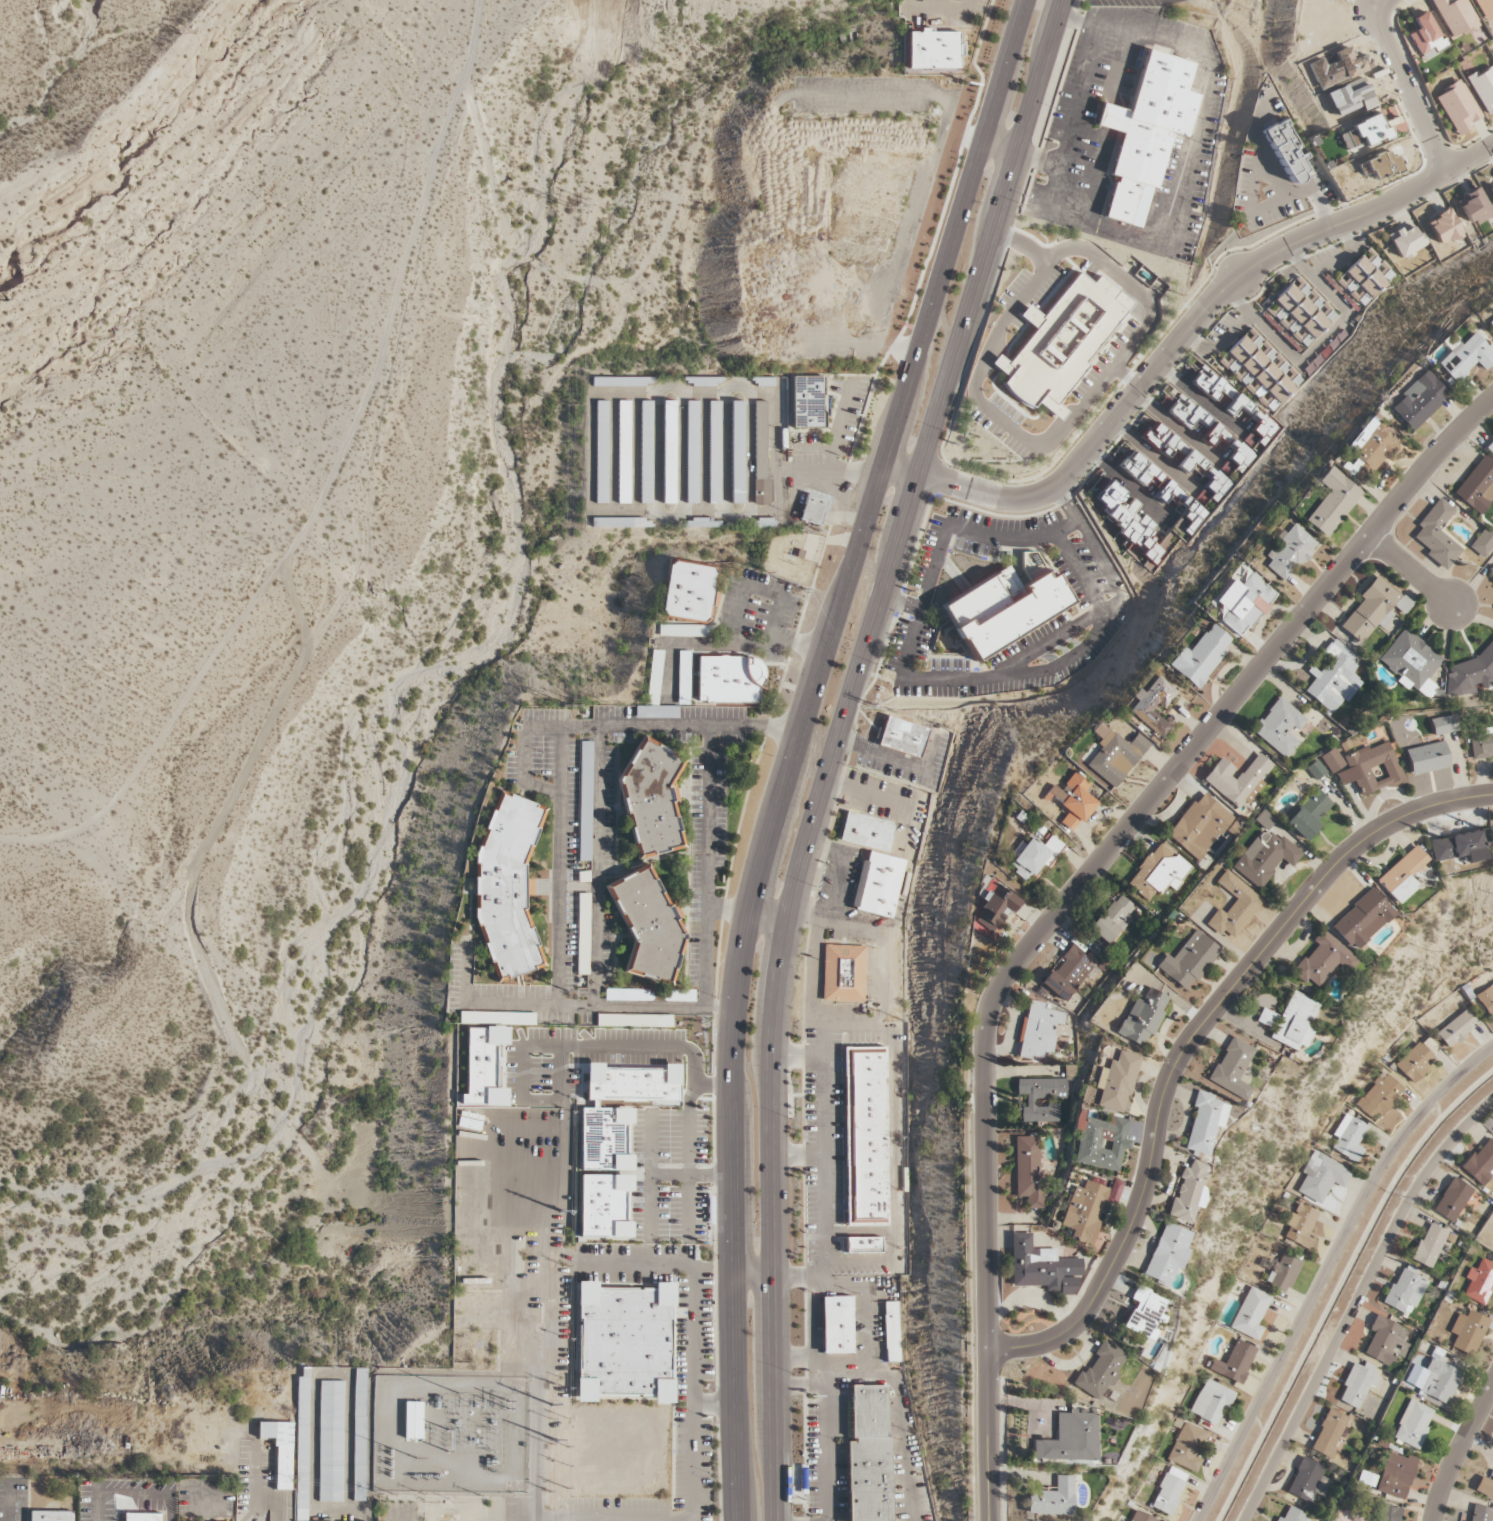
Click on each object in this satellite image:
road: (937, 9)
building: (1484, 9)
building: (1455, 17)
building: (1426, 37)
building: (932, 49)
road: (1409, 86)
building: (1483, 88)
building: (1457, 107)
road: (1070, 124)
building: (1364, 132)
building: (1146, 133)
road: (1002, 145)
road: (1192, 146)
road: (1259, 148)
building: (1285, 150)
building: (1381, 165)
building: (1491, 190)
power tower: (570, 201)
building: (1474, 207)
road: (1319, 209)
road: (1249, 214)
building: (1443, 227)
building: (1405, 241)
building: (1366, 277)
road: (1343, 306)
road: (763, 311)
building: (1299, 315)
building: (1491, 323)
road: (1259, 324)
building: (1061, 340)
road: (1179, 340)
road: (896, 349)
building: (1465, 357)
building: (1258, 374)
building: (621, 381)
building: (1418, 401)
building: (808, 402)
power tower: (567, 403)
building: (1235, 404)
building: (1189, 413)
road: (838, 427)
road: (1177, 428)
building: (1490, 447)
building: (1369, 450)
building: (601, 452)
building: (623, 452)
building: (646, 452)
building: (668, 452)
building: (691, 452)
building: (714, 452)
building: (737, 452)
building: (760, 453)
building: (1140, 470)
road: (838, 473)
road: (1385, 473)
building: (1206, 475)
building: (1477, 485)
road: (914, 487)
building: (1332, 502)
building: (1183, 506)
road: (1066, 508)
building: (812, 509)
building: (1129, 522)
building: (620, 523)
road: (1069, 528)
building: (1437, 535)
building: (1482, 543)
building: (1289, 552)
road: (1110, 570)
building: (1491, 570)
road: (1411, 571)
building: (687, 591)
building: (1244, 603)
road: (901, 606)
building: (1004, 609)
building: (1374, 609)
road: (1262, 619)
building: (683, 631)
road: (797, 643)
road: (764, 646)
building: (1200, 657)
building: (1411, 662)
road: (1220, 672)
building: (1471, 673)
building: (654, 677)
building: (1334, 678)
building: (729, 679)
road: (933, 685)
power tower: (565, 703)
building: (1153, 706)
building: (1444, 725)
building: (1279, 727)
road: (665, 728)
building: (902, 736)
building: (1482, 743)
road: (797, 747)
road: (882, 757)
building: (1115, 757)
building: (1427, 758)
building: (1331, 761)
building: (1373, 768)
building: (1315, 770)
building: (1238, 780)
building: (651, 799)
road: (893, 800)
building: (585, 801)
building: (1071, 801)
building: (1308, 815)
building: (1199, 826)
building: (865, 831)
building: (1458, 847)
building: (1033, 857)
building: (1265, 857)
road: (560, 866)
road: (596, 866)
road: (707, 868)
road: (840, 869)
building: (1159, 872)
building: (1402, 875)
building: (877, 884)
building: (507, 886)
road: (1070, 896)
building: (1234, 907)
building: (994, 908)
building: (1113, 919)
building: (1362, 919)
road: (799, 920)
building: (648, 926)
building: (1322, 960)
building: (1189, 961)
building: (843, 973)
building: (1069, 973)
road: (889, 981)
power tower: (565, 991)
building: (1486, 999)
road: (570, 1005)
building: (497, 1018)
building: (1142, 1018)
building: (1291, 1021)
road: (856, 1026)
building: (1456, 1029)
road: (1187, 1040)
building: (644, 1047)
road: (797, 1055)
building: (1415, 1062)
building: (483, 1067)
building: (1232, 1068)
building: (1116, 1083)
building: (632, 1084)
road: (822, 1096)
building: (1379, 1097)
building: (1031, 1102)
building: (1204, 1122)
road: (689, 1130)
building: (865, 1135)
building: (605, 1138)
building: (1349, 1138)
road: (892, 1143)
building: (1101, 1143)
road: (797, 1155)
building: (1481, 1164)
building: (1028, 1170)
building: (1321, 1177)
building: (1188, 1192)
building: (1452, 1200)
building: (605, 1206)
building: (1084, 1211)
building: (1300, 1227)
road: (858, 1231)
building: (863, 1244)
building: (1428, 1246)
road: (772, 1249)
building: (1166, 1255)
road: (859, 1263)
power tower: (556, 1264)
building: (1041, 1267)
road: (1325, 1270)
building: (1284, 1273)
road: (778, 1275)
building: (1479, 1282)
building: (1405, 1289)
road: (694, 1301)
road: (1355, 1303)
building: (1142, 1313)
building: (1250, 1313)
building: (836, 1324)
road: (863, 1327)
road: (813, 1328)
building: (892, 1331)
building: (1467, 1332)
building: (1385, 1341)
building: (624, 1343)
road: (794, 1357)
building: (1234, 1363)
building: (1100, 1371)
road: (315, 1375)
power tower: (555, 1377)
building: (1433, 1380)
building: (1357, 1384)
road: (897, 1389)
building: (1212, 1401)
building: (1413, 1424)
building: (1328, 1433)
building: (359, 1434)
building: (1070, 1438)
building: (330, 1440)
building: (301, 1445)
building: (1188, 1448)
building: (279, 1450)
road: (828, 1452)
building: (868, 1454)
road: (1461, 1454)
building: (1396, 1476)
building: (1367, 1479)
building: (1308, 1483)
building: (1485, 1486)
building: (1169, 1491)
building: (1052, 1499)
road: (8, 1503)
road: (361, 1511)
building: (1385, 1513)
building: (1480, 1513)
building: (1293, 1515)
building: (51, 1516)
building: (143, 1516)
building: (1143, 1517)
road: (672, 1520)

